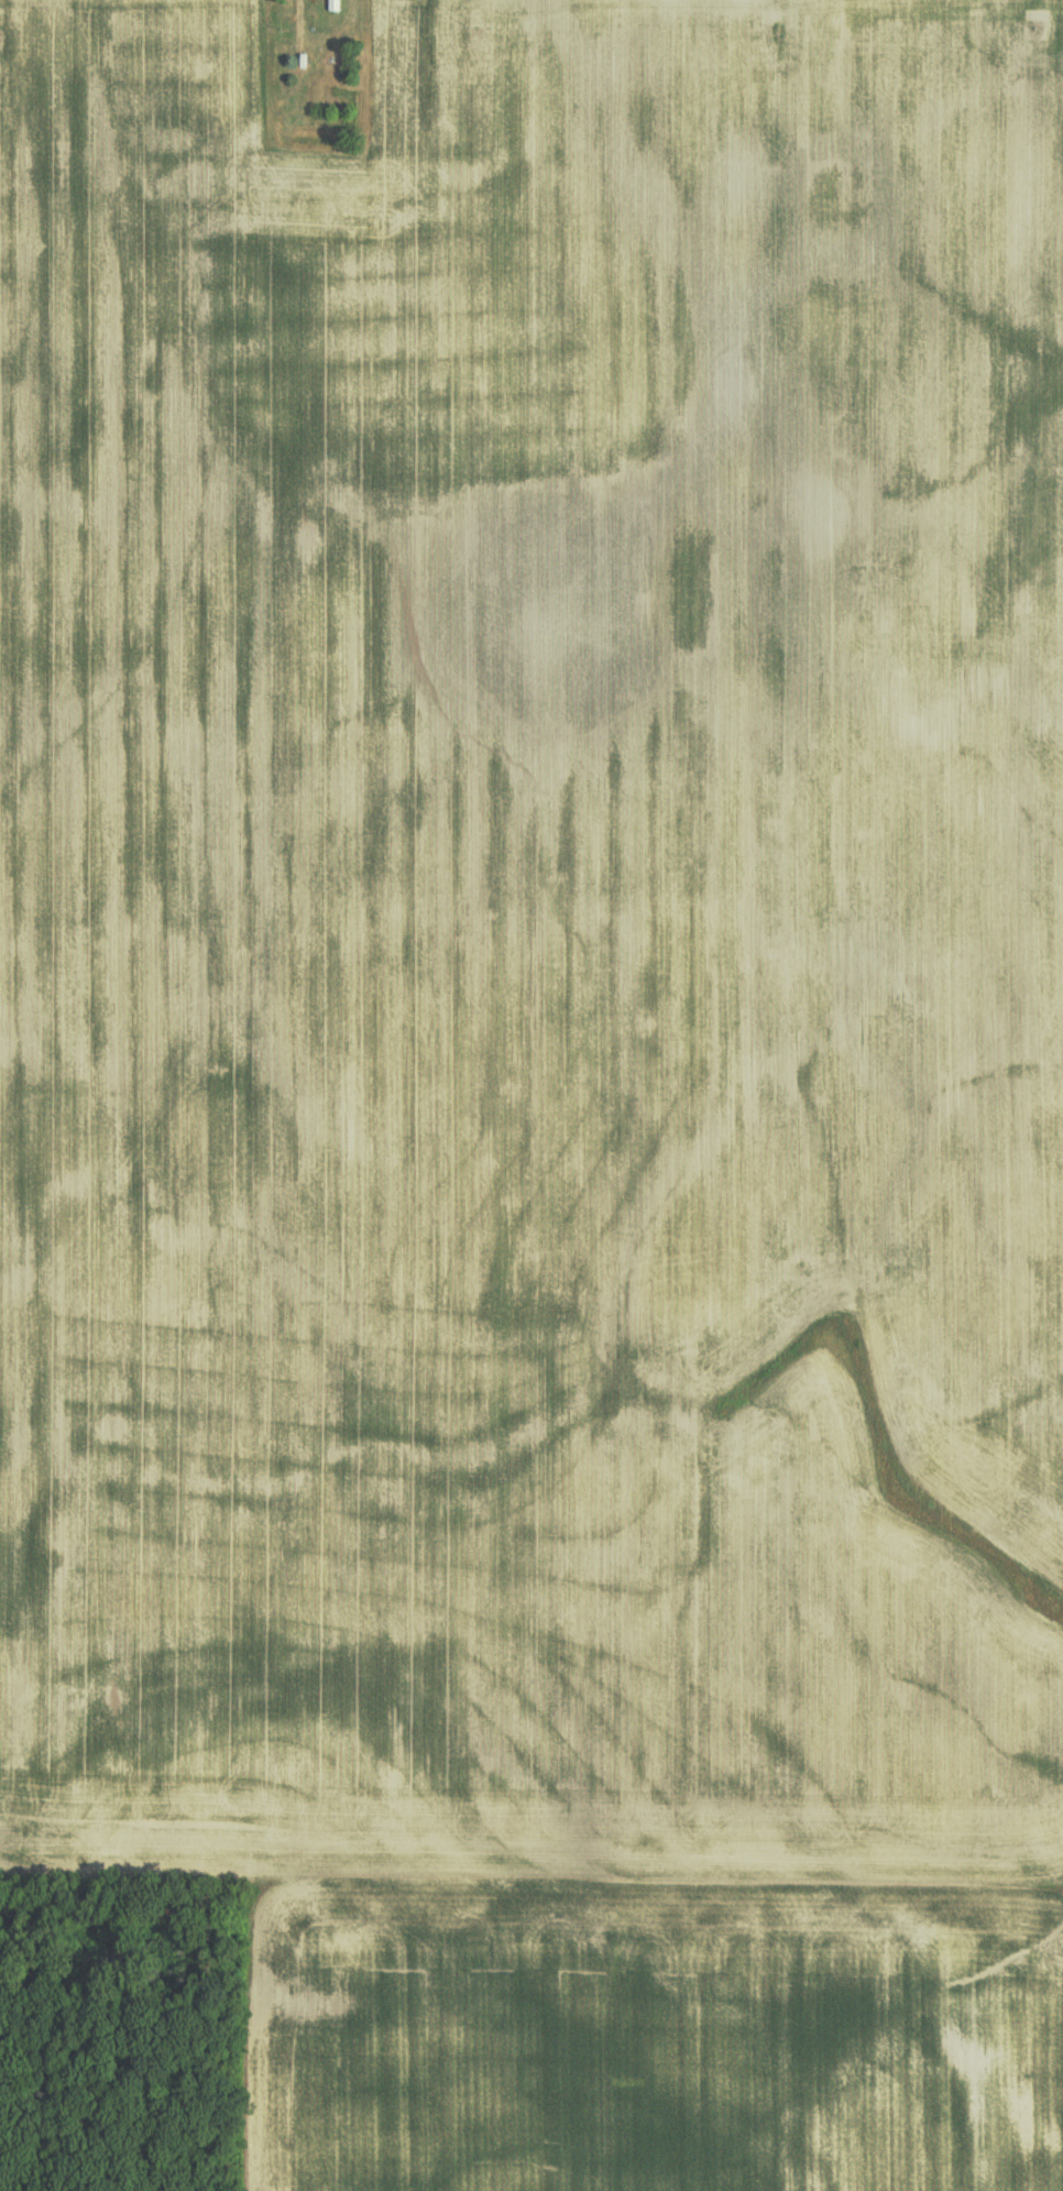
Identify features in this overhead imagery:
crop: (534, 936)
crop: (645, 2025)

